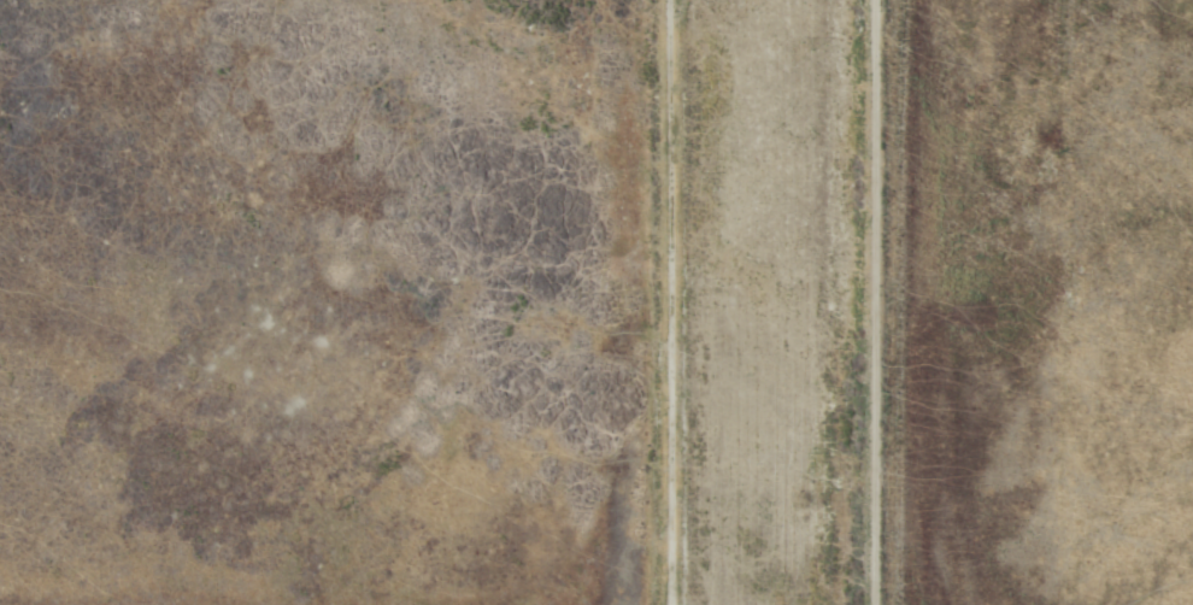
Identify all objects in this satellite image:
crop: (596, 302)
road: (706, 302)

